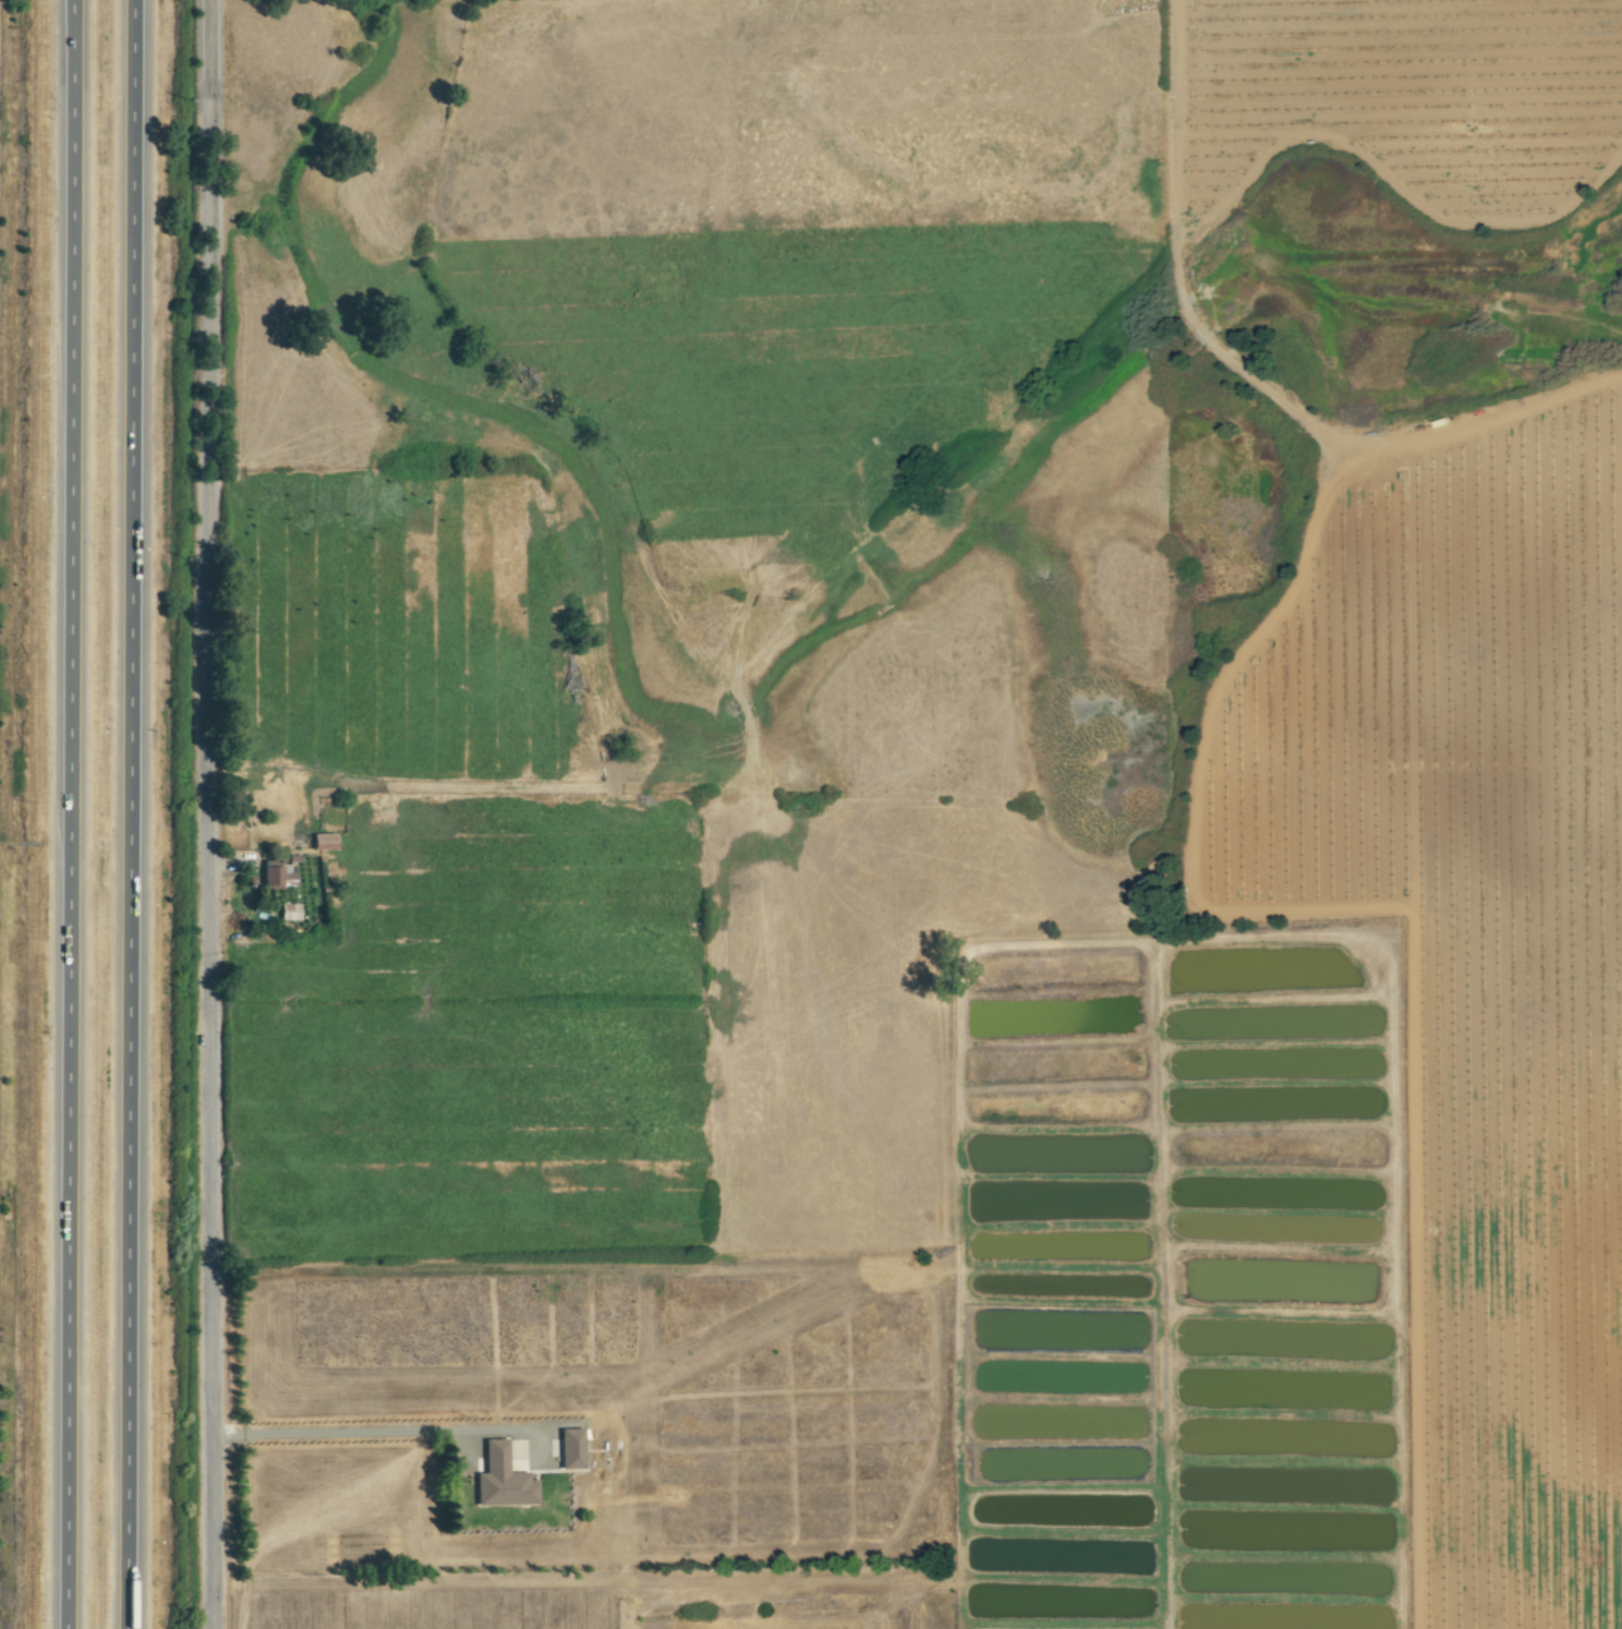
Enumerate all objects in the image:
road: (71, 58)
road: (215, 813)
road: (140, 814)
building: (322, 841)
road: (72, 872)
building: (274, 876)
building: (288, 912)
road: (371, 1432)
building: (569, 1447)
building: (495, 1477)

